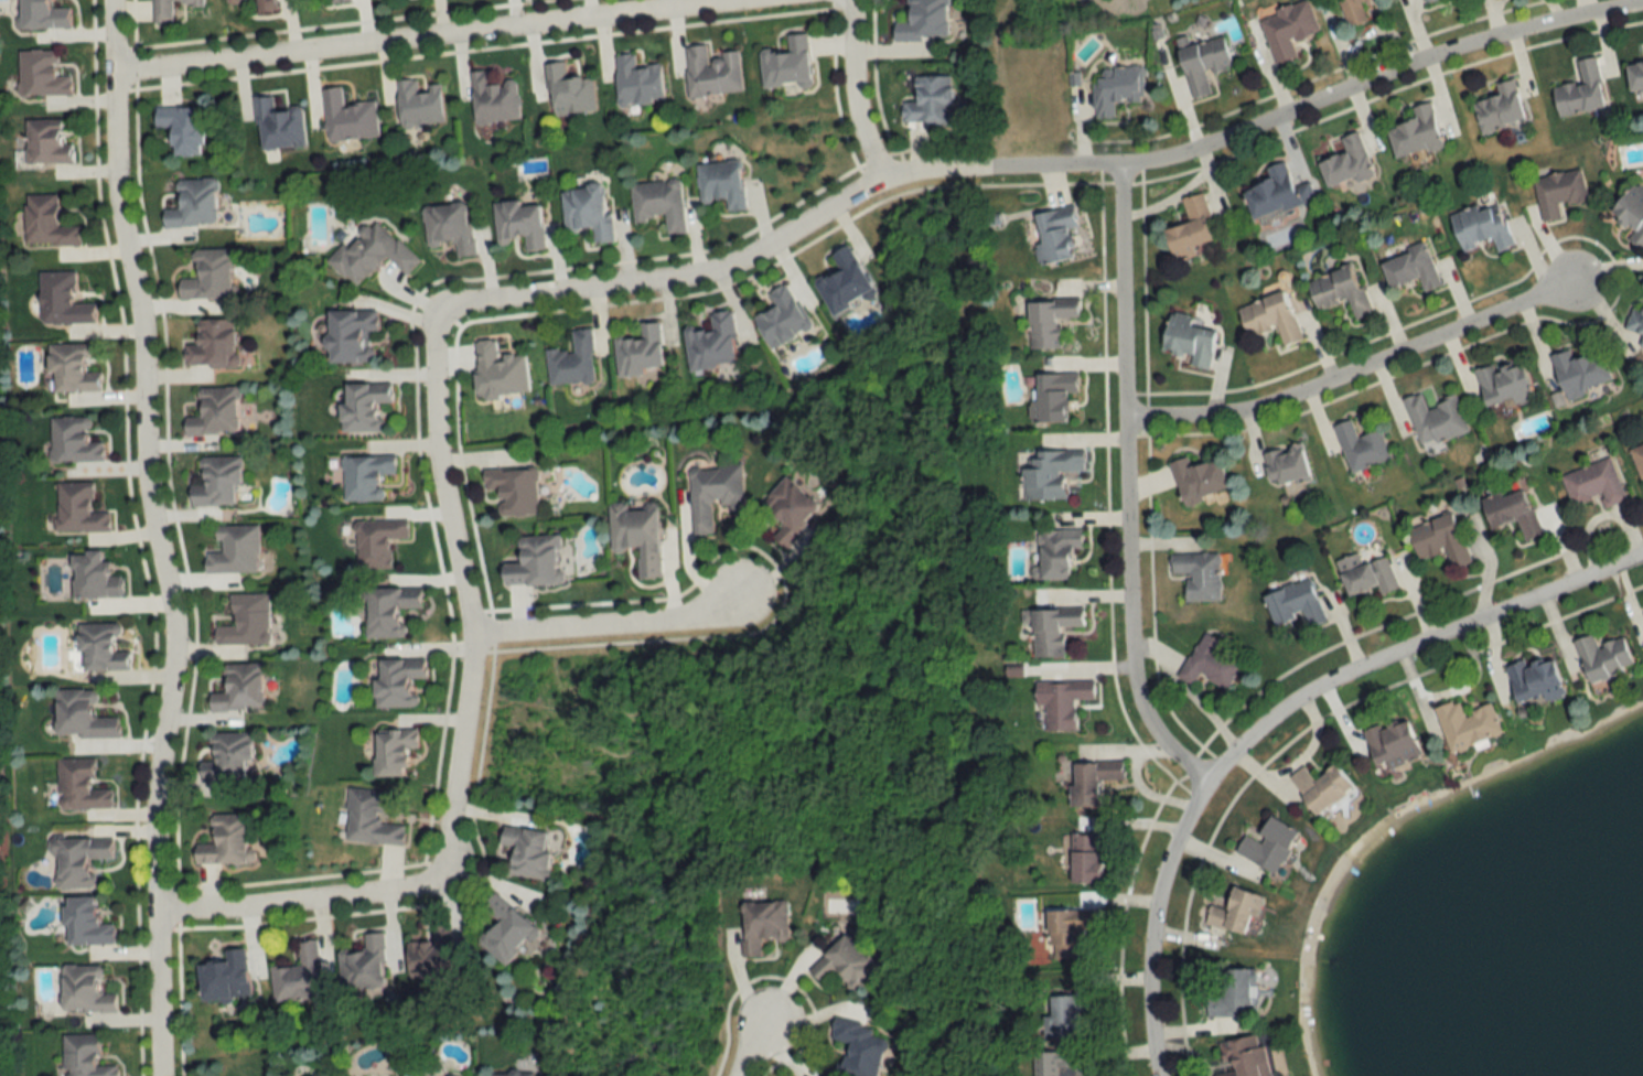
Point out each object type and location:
building: (339, 1)
building: (1427, 1)
building: (262, 6)
building: (165, 9)
building: (1353, 12)
building: (41, 14)
building: (922, 21)
building: (1287, 30)
road: (428, 35)
building: (1202, 63)
building: (786, 64)
building: (710, 73)
building: (41, 74)
building: (1635, 77)
building: (636, 82)
building: (1117, 89)
building: (567, 90)
building: (1580, 90)
road: (856, 93)
building: (492, 98)
building: (930, 101)
building: (418, 104)
building: (1499, 109)
building: (347, 118)
building: (277, 126)
building: (180, 128)
building: (1415, 133)
building: (45, 142)
building: (1346, 163)
road: (1021, 168)
building: (720, 184)
building: (1276, 193)
building: (1558, 193)
building: (193, 204)
building: (658, 204)
building: (586, 213)
building: (1631, 213)
building: (45, 223)
building: (518, 225)
building: (448, 227)
building: (1481, 227)
building: (1190, 229)
building: (1054, 235)
building: (369, 252)
building: (1411, 269)
building: (208, 277)
building: (844, 283)
building: (1339, 291)
building: (61, 301)
building: (781, 319)
building: (1270, 319)
building: (1048, 322)
building: (1635, 322)
building: (350, 335)
building: (1190, 340)
building: (711, 343)
building: (212, 344)
building: (638, 352)
building: (572, 361)
road: (1355, 369)
building: (69, 370)
building: (497, 372)
building: (1579, 372)
building: (1504, 384)
building: (1053, 398)
building: (361, 406)
building: (214, 412)
building: (1435, 419)
building: (73, 441)
building: (1361, 446)
building: (1637, 460)
building: (1285, 465)
building: (1049, 473)
building: (365, 477)
building: (1198, 480)
building: (214, 481)
building: (1593, 484)
road: (1127, 487)
building: (512, 491)
building: (712, 494)
building: (77, 509)
building: (788, 510)
building: (1512, 513)
road: (160, 537)
building: (636, 537)
building: (1439, 541)
building: (376, 542)
building: (233, 550)
building: (1055, 552)
building: (534, 562)
building: (1365, 574)
building: (1198, 575)
building: (92, 577)
building: (1295, 605)
building: (388, 611)
building: (245, 622)
road: (615, 622)
building: (1051, 630)
building: (99, 647)
building: (1601, 658)
building: (1209, 664)
building: (1534, 680)
building: (397, 682)
building: (238, 688)
building: (1061, 702)
road: (1275, 714)
building: (80, 715)
building: (1464, 725)
building: (1389, 744)
building: (391, 752)
road: (461, 753)
building: (225, 757)
building: (1093, 782)
building: (78, 786)
building: (1319, 787)
building: (368, 819)
building: (225, 841)
building: (1267, 846)
building: (525, 852)
building: (1086, 859)
building: (77, 860)
building: (1234, 913)
building: (84, 923)
building: (762, 924)
building: (504, 930)
building: (1070, 932)
building: (430, 954)
building: (363, 965)
building: (844, 965)
building: (298, 977)
building: (224, 978)
building: (84, 990)
building: (1231, 996)
building: (1059, 1016)
road: (754, 1041)
building: (857, 1048)
building: (83, 1056)
building: (1244, 1057)
building: (1053, 1063)
building: (508, 1075)

